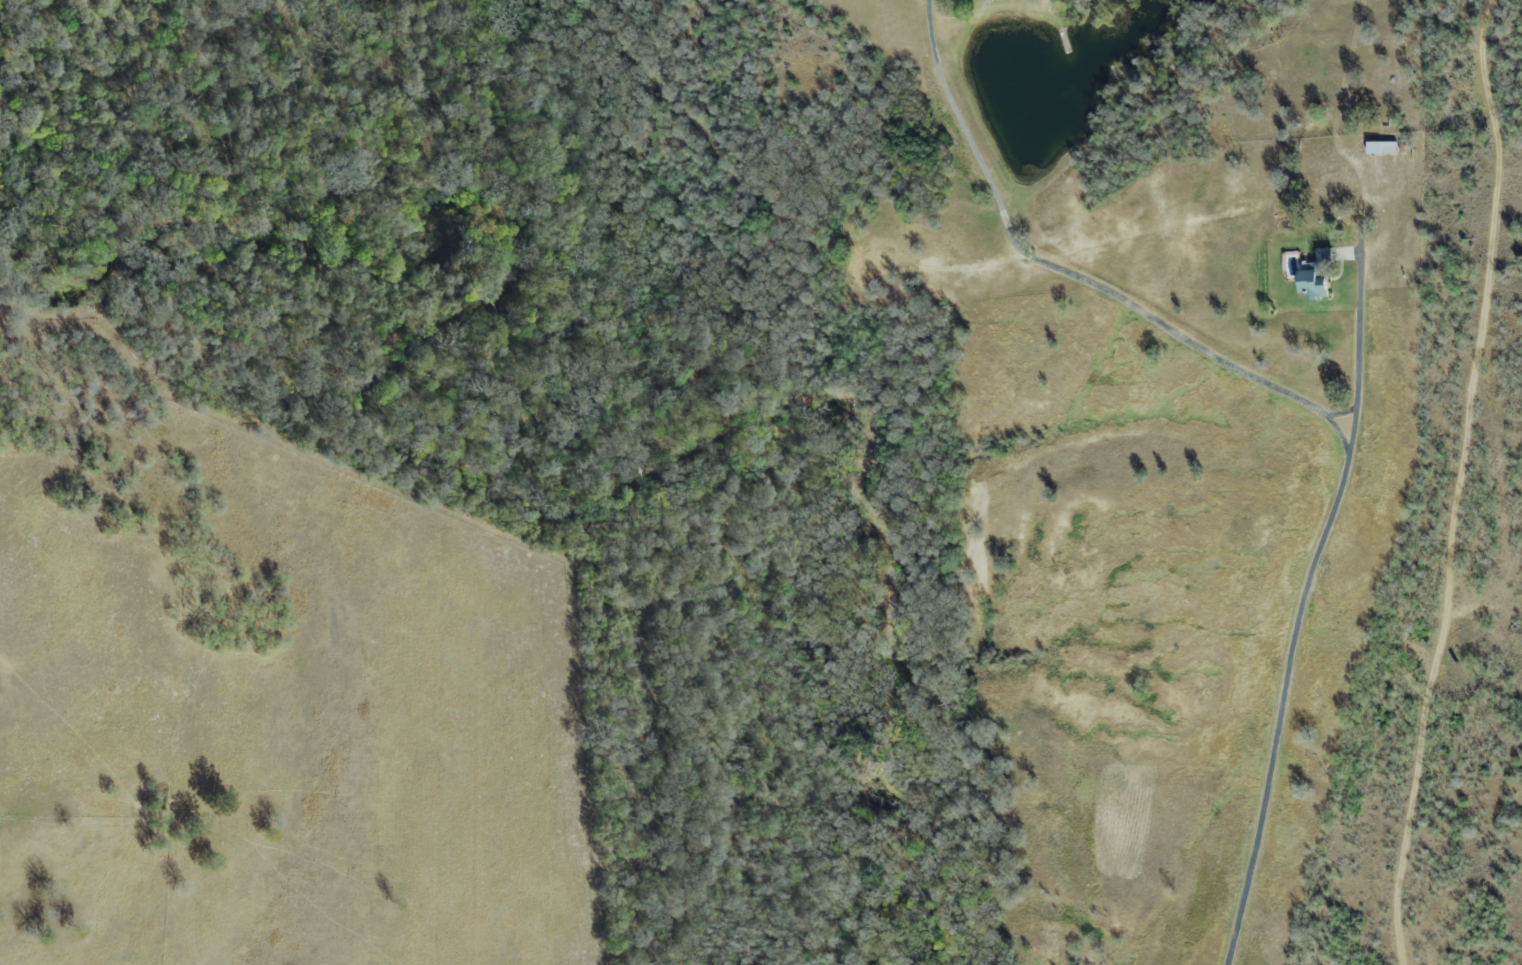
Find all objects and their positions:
building: (1379, 147)
road: (1359, 346)
road: (1307, 403)
road: (1353, 432)
road: (1465, 481)

